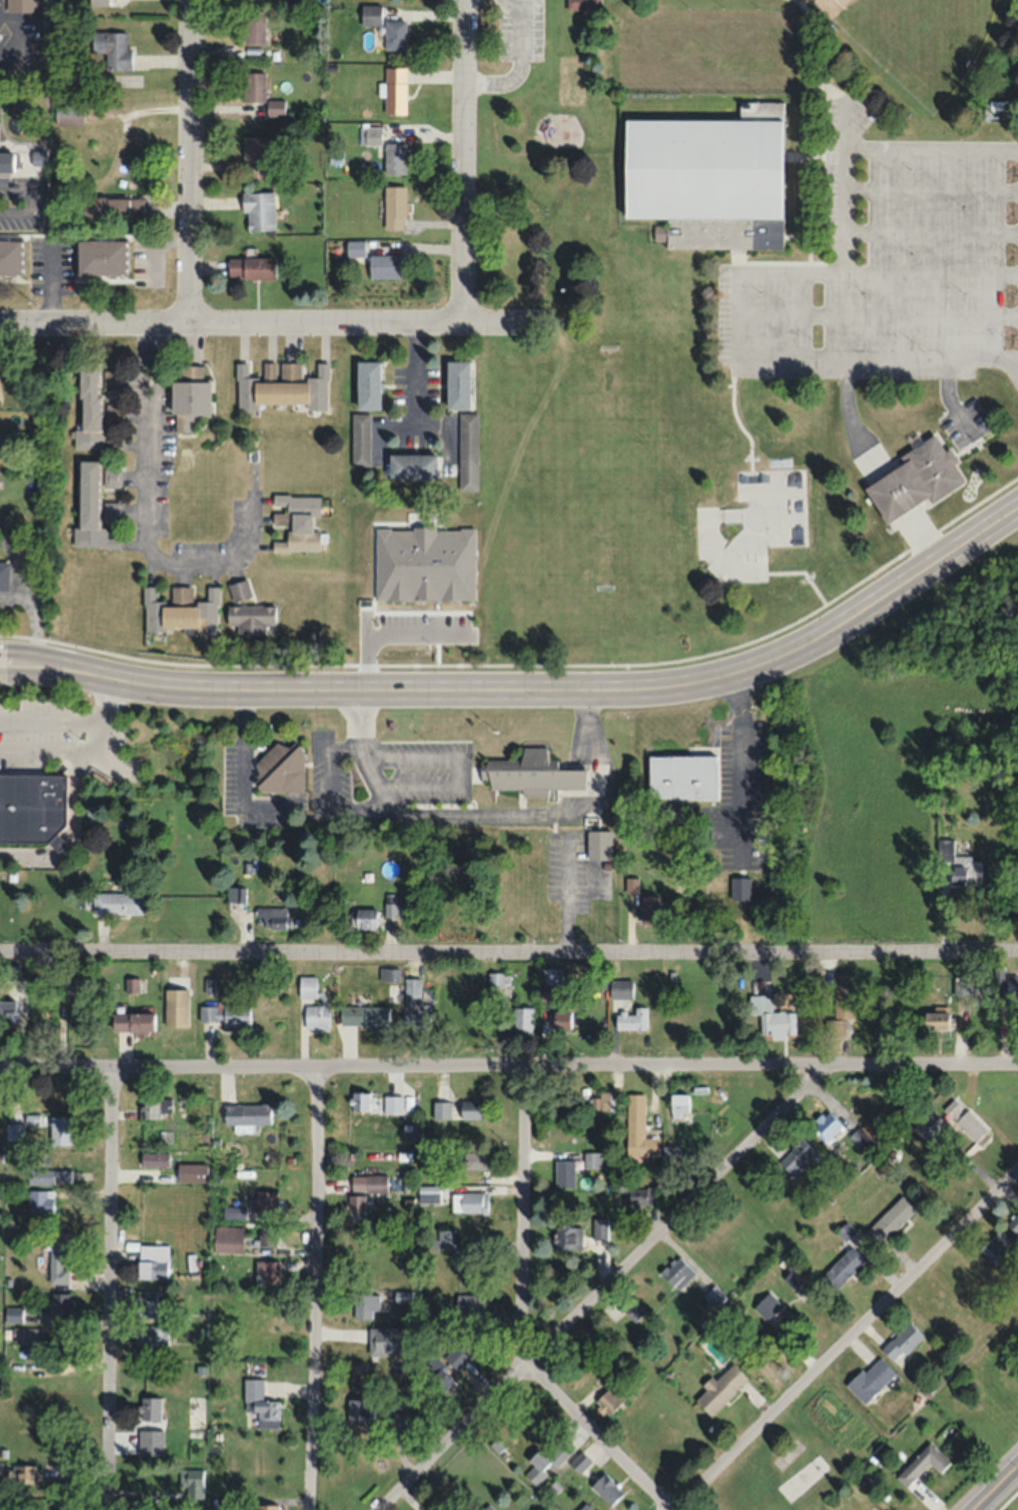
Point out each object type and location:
building: (98, 2)
building: (583, 4)
building: (19, 5)
building: (371, 14)
building: (253, 26)
parking lot: (519, 30)
building: (395, 34)
park: (915, 38)
building: (112, 49)
road: (519, 61)
building: (253, 86)
building: (395, 90)
building: (275, 107)
building: (68, 116)
building: (369, 136)
building: (253, 149)
building: (394, 158)
road: (463, 159)
building: (6, 161)
road: (189, 161)
road: (808, 164)
building: (708, 177)
building: (112, 207)
building: (394, 207)
building: (258, 211)
building: (355, 250)
building: (9, 257)
building: (100, 257)
building: (384, 266)
building: (250, 268)
road: (757, 274)
park: (718, 296)
road: (263, 320)
building: (111, 380)
building: (367, 385)
building: (458, 385)
building: (281, 387)
building: (189, 399)
building: (89, 407)
road: (851, 423)
building: (360, 440)
building: (109, 447)
building: (467, 452)
building: (412, 466)
building: (907, 476)
building: (111, 478)
road: (893, 495)
building: (90, 509)
building: (111, 511)
building: (297, 522)
park: (752, 522)
road: (144, 524)
road: (923, 537)
building: (4, 575)
building: (239, 589)
building: (180, 611)
building: (250, 618)
road: (531, 694)
road: (69, 722)
road: (57, 751)
building: (281, 769)
building: (531, 773)
building: (681, 776)
building: (31, 806)
road: (72, 834)
building: (599, 844)
building: (958, 864)
building: (235, 893)
building: (118, 903)
building: (648, 908)
building: (390, 909)
building: (364, 917)
building: (270, 918)
road: (509, 951)
building: (389, 974)
building: (496, 979)
building: (551, 982)
building: (132, 984)
building: (962, 985)
building: (1012, 986)
building: (621, 988)
building: (843, 995)
building: (415, 1005)
building: (176, 1006)
building: (7, 1011)
building: (226, 1012)
building: (316, 1016)
building: (364, 1016)
building: (772, 1016)
building: (632, 1018)
building: (562, 1019)
building: (936, 1019)
building: (523, 1020)
building: (133, 1021)
building: (836, 1027)
road: (508, 1063)
building: (359, 1101)
building: (599, 1101)
building: (679, 1103)
building: (393, 1104)
building: (155, 1106)
building: (471, 1109)
building: (441, 1110)
building: (247, 1114)
building: (963, 1118)
building: (827, 1126)
building: (930, 1127)
building: (638, 1128)
building: (60, 1130)
building: (14, 1132)
building: (404, 1139)
building: (670, 1154)
building: (403, 1156)
building: (798, 1157)
building: (152, 1159)
building: (591, 1159)
building: (474, 1160)
building: (191, 1172)
building: (564, 1172)
building: (48, 1175)
building: (376, 1183)
building: (429, 1194)
building: (642, 1196)
building: (264, 1201)
building: (40, 1202)
building: (474, 1202)
building: (356, 1205)
building: (889, 1220)
building: (1013, 1223)
building: (599, 1228)
building: (267, 1235)
building: (568, 1237)
building: (228, 1238)
building: (444, 1238)
building: (480, 1246)
building: (992, 1252)
building: (58, 1255)
building: (153, 1260)
building: (840, 1269)
building: (267, 1271)
building: (677, 1272)
road: (605, 1286)
road: (107, 1287)
road: (311, 1287)
building: (714, 1295)
building: (402, 1296)
building: (57, 1302)
building: (468, 1302)
building: (149, 1304)
building: (365, 1305)
building: (767, 1306)
building: (14, 1313)
road: (519, 1313)
building: (27, 1335)
road: (849, 1336)
building: (152, 1338)
building: (389, 1340)
building: (901, 1341)
building: (16, 1368)
building: (436, 1379)
building: (870, 1379)
building: (719, 1388)
building: (610, 1398)
building: (258, 1405)
building: (358, 1408)
building: (148, 1409)
building: (193, 1417)
building: (399, 1419)
building: (545, 1460)
building: (579, 1461)
building: (920, 1467)
building: (802, 1477)
building: (21, 1481)
building: (193, 1484)
building: (607, 1489)
road: (997, 1489)
building: (228, 1503)
building: (60, 1506)
building: (266, 1506)
building: (490, 1506)
building: (584, 1507)
park: (1015, 1507)
road: (981, 1508)

